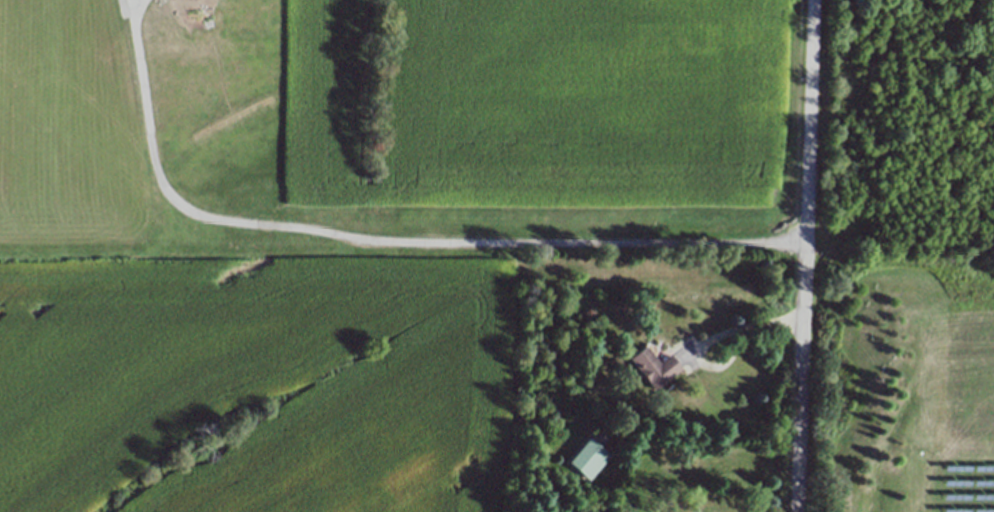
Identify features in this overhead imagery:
road: (152, 14)
road: (382, 254)
road: (812, 256)
road: (718, 351)
building: (654, 367)
building: (589, 459)
solar farm: (965, 484)
building: (731, 504)

